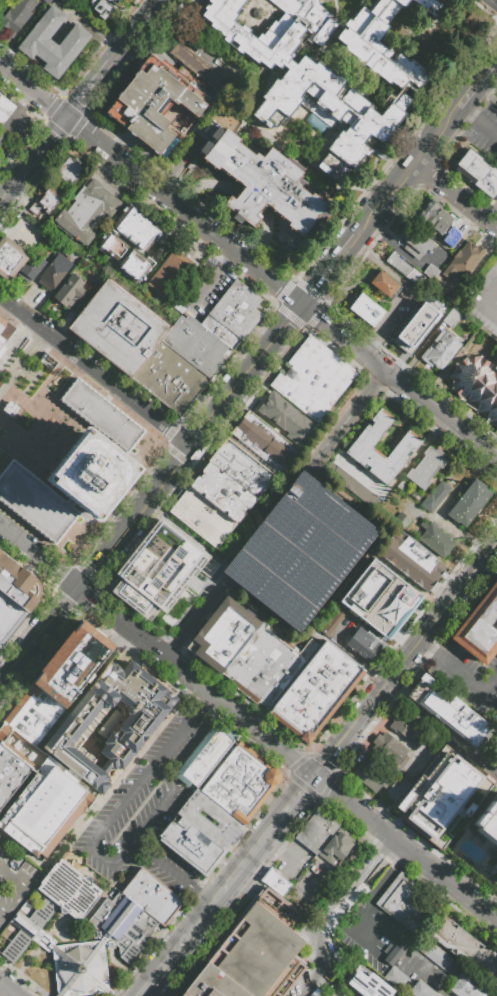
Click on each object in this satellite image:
building: (0, 0)
building: (430, 6)
building: (103, 7)
building: (17, 15)
road: (94, 28)
building: (270, 29)
road: (137, 32)
building: (53, 43)
building: (197, 65)
road: (485, 68)
road: (89, 91)
building: (347, 91)
road: (33, 92)
road: (484, 94)
road: (465, 96)
building: (151, 102)
building: (5, 109)
road: (18, 111)
road: (464, 112)
traffic signals: (67, 119)
road: (484, 127)
parking lot: (484, 133)
road: (435, 136)
road: (91, 137)
building: (2, 139)
road: (45, 147)
road: (170, 167)
building: (70, 170)
building: (479, 173)
road: (202, 183)
road: (6, 184)
building: (263, 184)
road: (108, 186)
road: (11, 191)
road: (455, 197)
building: (47, 198)
road: (248, 200)
road: (385, 201)
parking lot: (495, 207)
building: (35, 208)
road: (180, 208)
building: (86, 211)
road: (490, 211)
building: (439, 221)
parking lot: (25, 231)
road: (262, 236)
building: (416, 238)
building: (131, 245)
road: (400, 252)
building: (10, 258)
building: (463, 260)
parking lot: (434, 262)
building: (398, 264)
building: (30, 267)
building: (54, 271)
road: (330, 272)
building: (168, 274)
road: (209, 278)
parking lot: (207, 279)
road: (274, 284)
building: (383, 284)
road: (406, 291)
building: (69, 292)
road: (480, 301)
parking lot: (484, 301)
road: (11, 304)
road: (28, 307)
traffic signals: (303, 307)
building: (236, 309)
building: (365, 310)
parking lot: (396, 316)
building: (452, 317)
building: (119, 327)
building: (414, 328)
parking lot: (415, 328)
road: (62, 329)
building: (220, 331)
building: (203, 338)
building: (1, 339)
road: (15, 341)
building: (1, 348)
building: (440, 348)
building: (191, 352)
road: (418, 352)
building: (1, 369)
road: (247, 377)
building: (169, 378)
building: (313, 378)
road: (107, 380)
road: (398, 381)
building: (478, 388)
road: (360, 399)
building: (100, 414)
building: (286, 419)
road: (436, 427)
building: (263, 441)
building: (360, 444)
road: (253, 457)
road: (495, 459)
building: (242, 467)
building: (424, 467)
building: (91, 474)
building: (229, 483)
road: (387, 484)
building: (434, 496)
building: (219, 498)
building: (35, 502)
building: (468, 502)
road: (325, 515)
building: (202, 517)
road: (134, 518)
road: (254, 518)
road: (184, 531)
road: (274, 531)
building: (433, 539)
road: (306, 549)
road: (292, 551)
building: (299, 552)
parking garage: (299, 552)
road: (39, 560)
building: (410, 561)
road: (322, 568)
building: (6, 569)
building: (155, 576)
road: (270, 584)
road: (447, 588)
building: (22, 589)
traffic signals: (78, 591)
building: (380, 594)
road: (200, 607)
building: (11, 608)
road: (266, 615)
building: (7, 621)
building: (330, 621)
road: (119, 624)
building: (479, 627)
building: (82, 628)
road: (322, 632)
building: (3, 634)
building: (223, 634)
building: (75, 637)
road: (38, 639)
road: (403, 642)
building: (363, 644)
road: (419, 644)
building: (68, 646)
road: (425, 647)
building: (245, 653)
road: (359, 660)
building: (56, 662)
building: (256, 663)
building: (78, 668)
road: (456, 671)
building: (48, 672)
building: (269, 672)
building: (285, 675)
building: (426, 679)
building: (40, 682)
parking lot: (465, 682)
road: (489, 682)
building: (316, 691)
building: (44, 700)
building: (38, 709)
building: (32, 715)
building: (454, 717)
building: (109, 721)
building: (28, 722)
road: (429, 723)
building: (409, 728)
building: (4, 729)
building: (22, 729)
road: (182, 733)
road: (20, 749)
building: (387, 749)
building: (204, 755)
road: (327, 761)
building: (15, 764)
building: (438, 764)
road: (486, 765)
building: (12, 774)
building: (370, 774)
traffic signals: (314, 779)
building: (241, 782)
building: (9, 783)
building: (397, 790)
road: (329, 791)
building: (7, 793)
building: (413, 797)
building: (3, 804)
building: (45, 807)
building: (463, 809)
parking lot: (145, 811)
building: (0, 815)
building: (222, 818)
building: (323, 821)
building: (487, 822)
building: (315, 831)
road: (269, 836)
road: (360, 840)
building: (307, 841)
building: (191, 844)
building: (336, 846)
road: (282, 855)
road: (380, 864)
road: (111, 868)
parking lot: (306, 872)
road: (174, 873)
road: (386, 877)
parking lot: (14, 882)
road: (249, 882)
building: (276, 882)
building: (159, 888)
road: (244, 890)
road: (25, 892)
building: (152, 896)
parking lot: (341, 896)
road: (342, 899)
building: (403, 902)
building: (145, 905)
road: (4, 911)
road: (206, 916)
road: (355, 924)
building: (124, 928)
parking lot: (369, 934)
building: (467, 945)
building: (432, 952)
building: (253, 953)
building: (391, 953)
road: (165, 967)
building: (395, 977)
road: (310, 982)
building: (368, 983)
parking lot: (306, 985)
building: (466, 987)
road: (8, 989)
building: (421, 990)
road: (443, 994)

